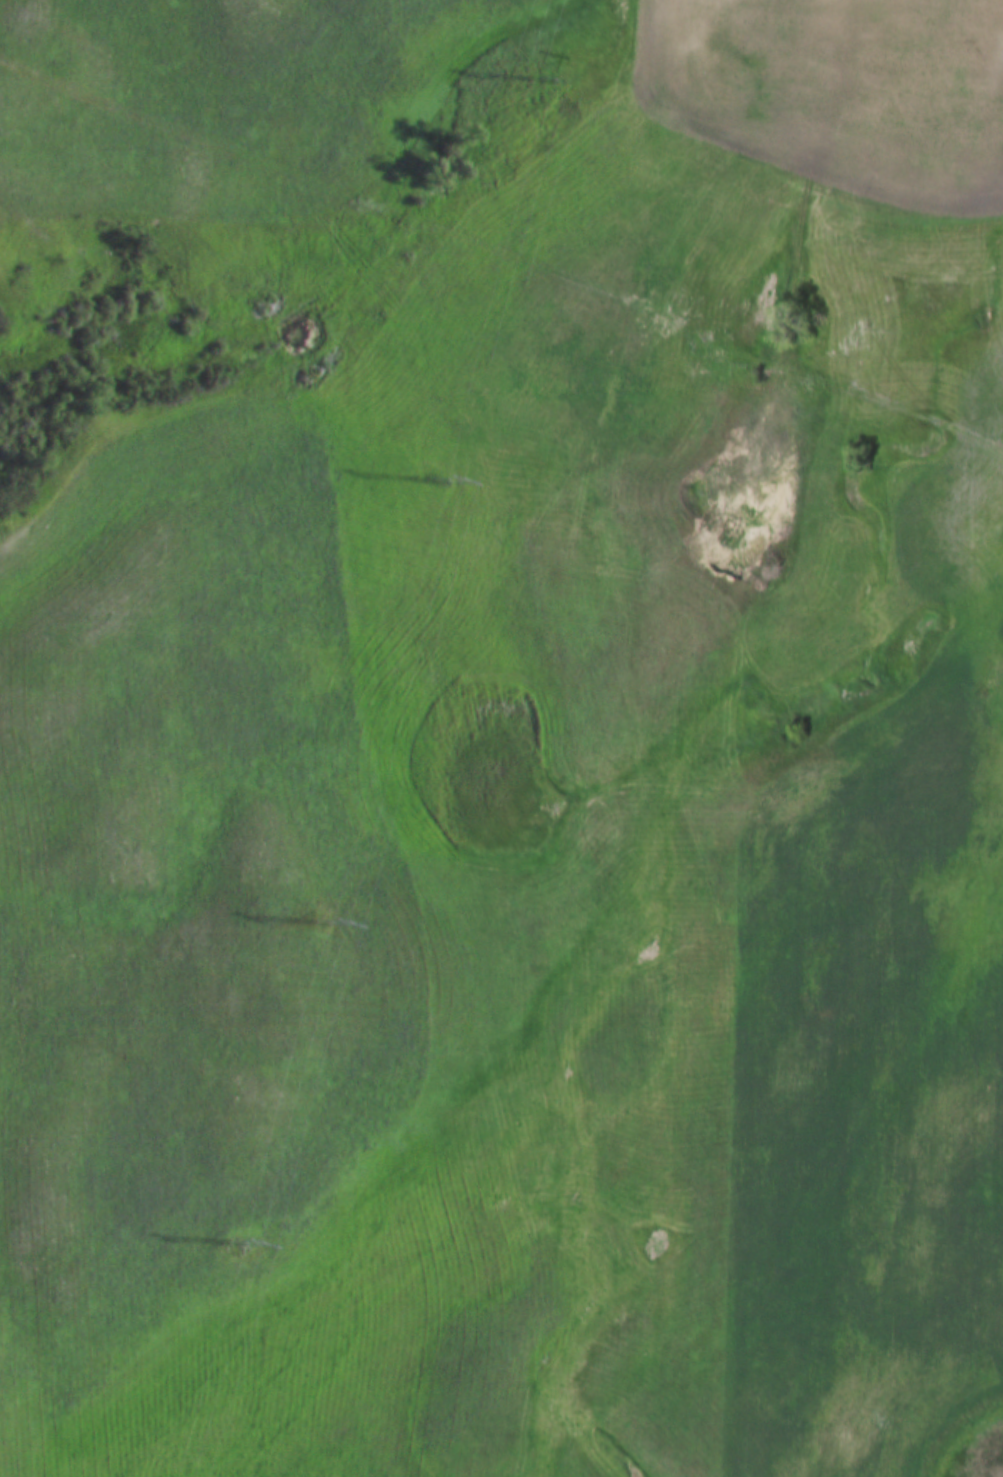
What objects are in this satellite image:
power tower: (552, 80)
power tower: (442, 480)
power tower: (326, 920)
power tower: (242, 1242)

